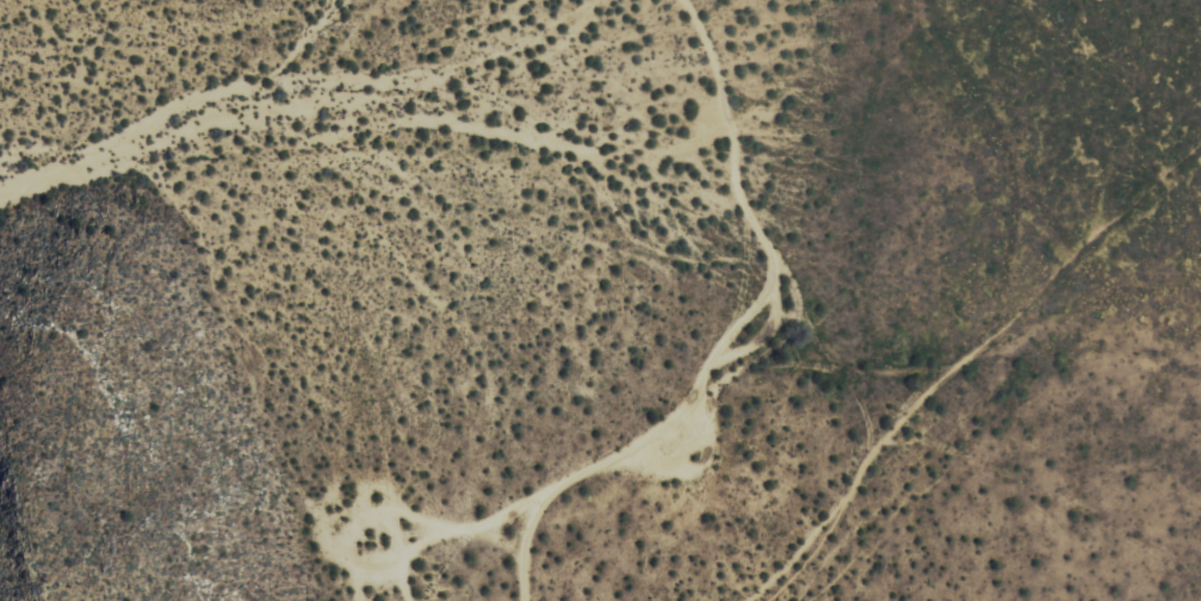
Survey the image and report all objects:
airport runway: (1094, 236)
road: (747, 343)
road: (862, 463)

